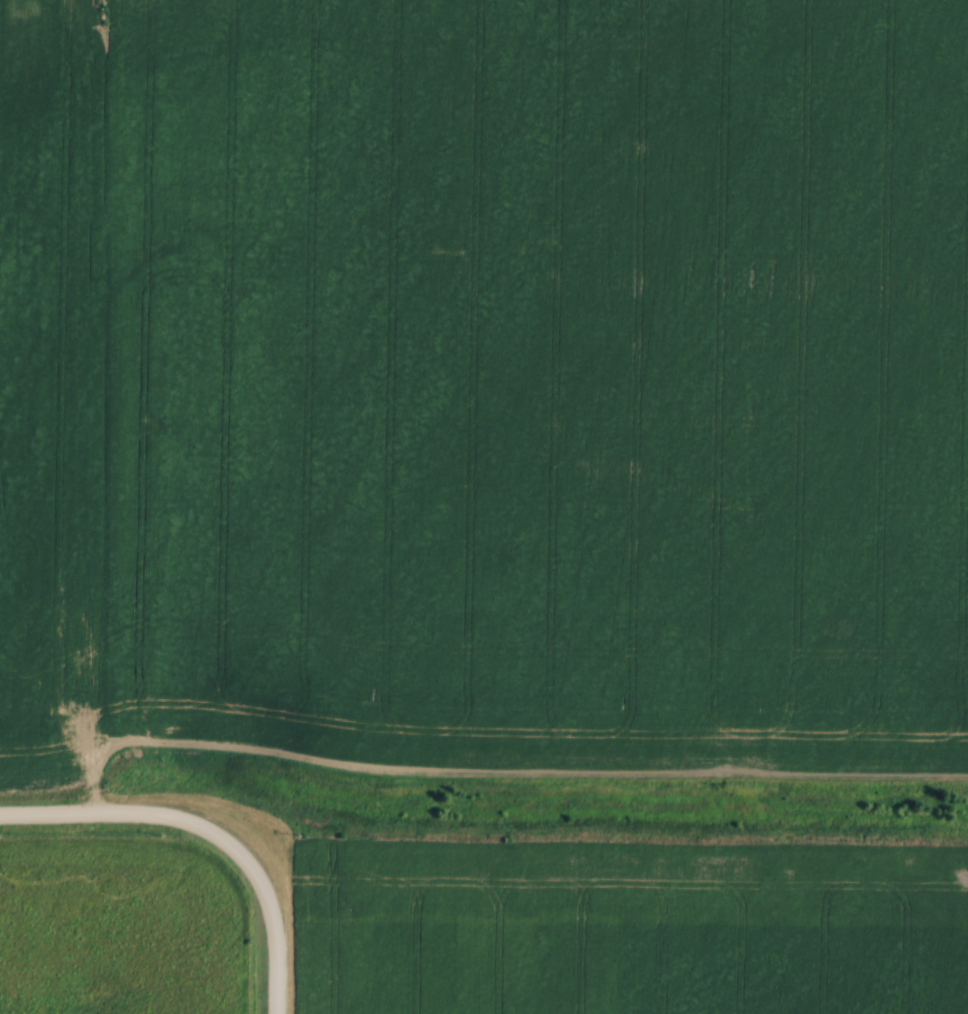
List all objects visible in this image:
road: (105, 817)
road: (270, 912)

